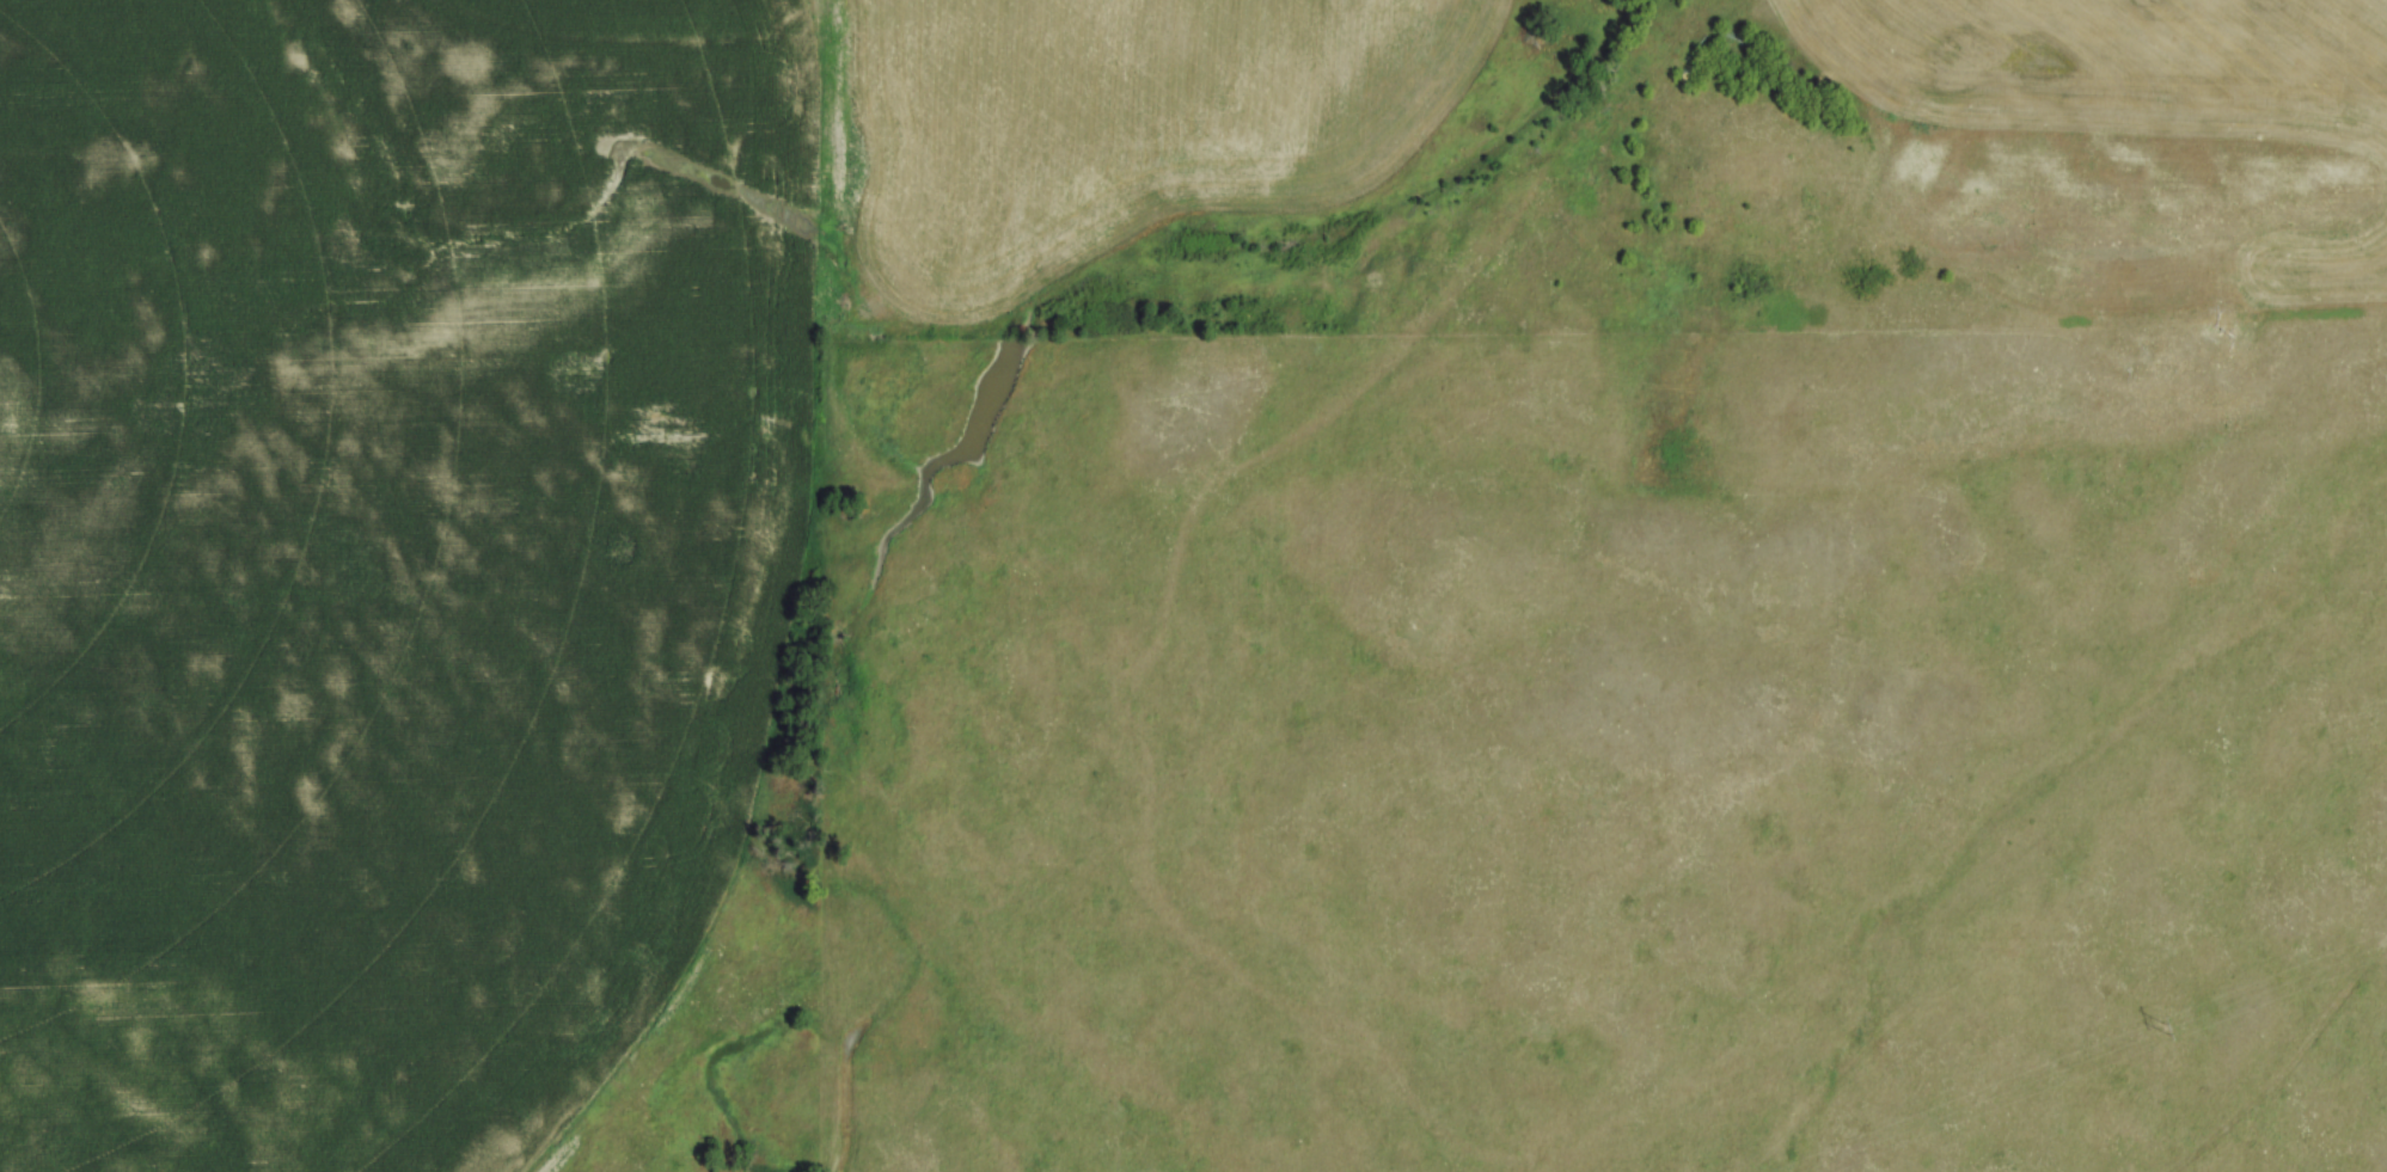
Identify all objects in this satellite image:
power tower: (2165, 1031)

